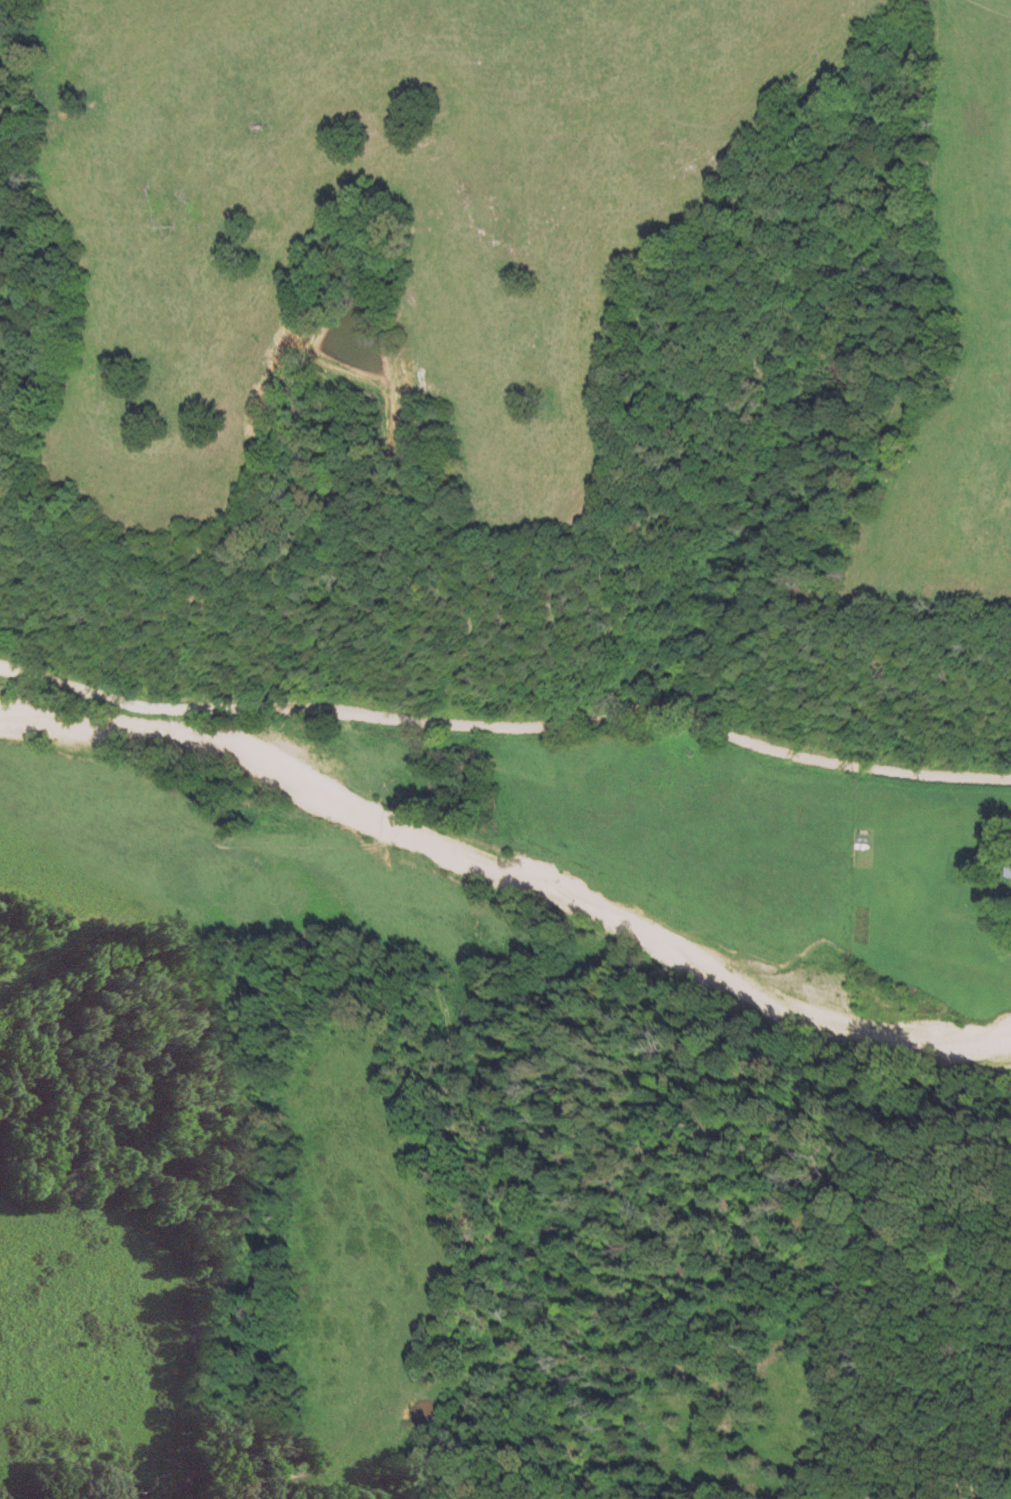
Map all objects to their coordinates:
road: (506, 714)
building: (1005, 867)

